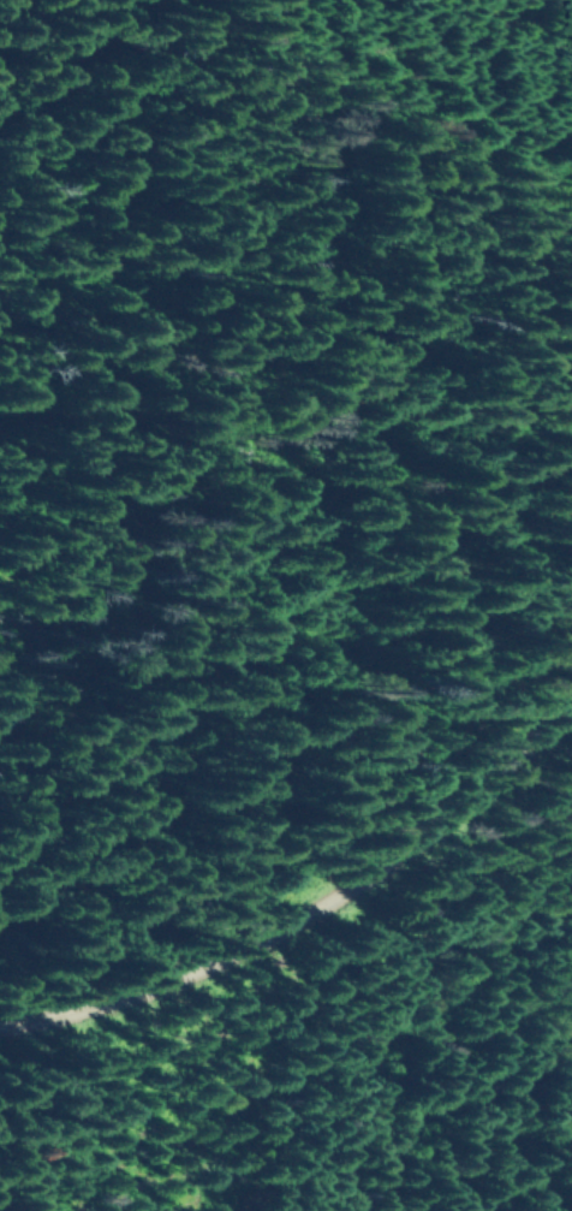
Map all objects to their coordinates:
road: (311, 909)

